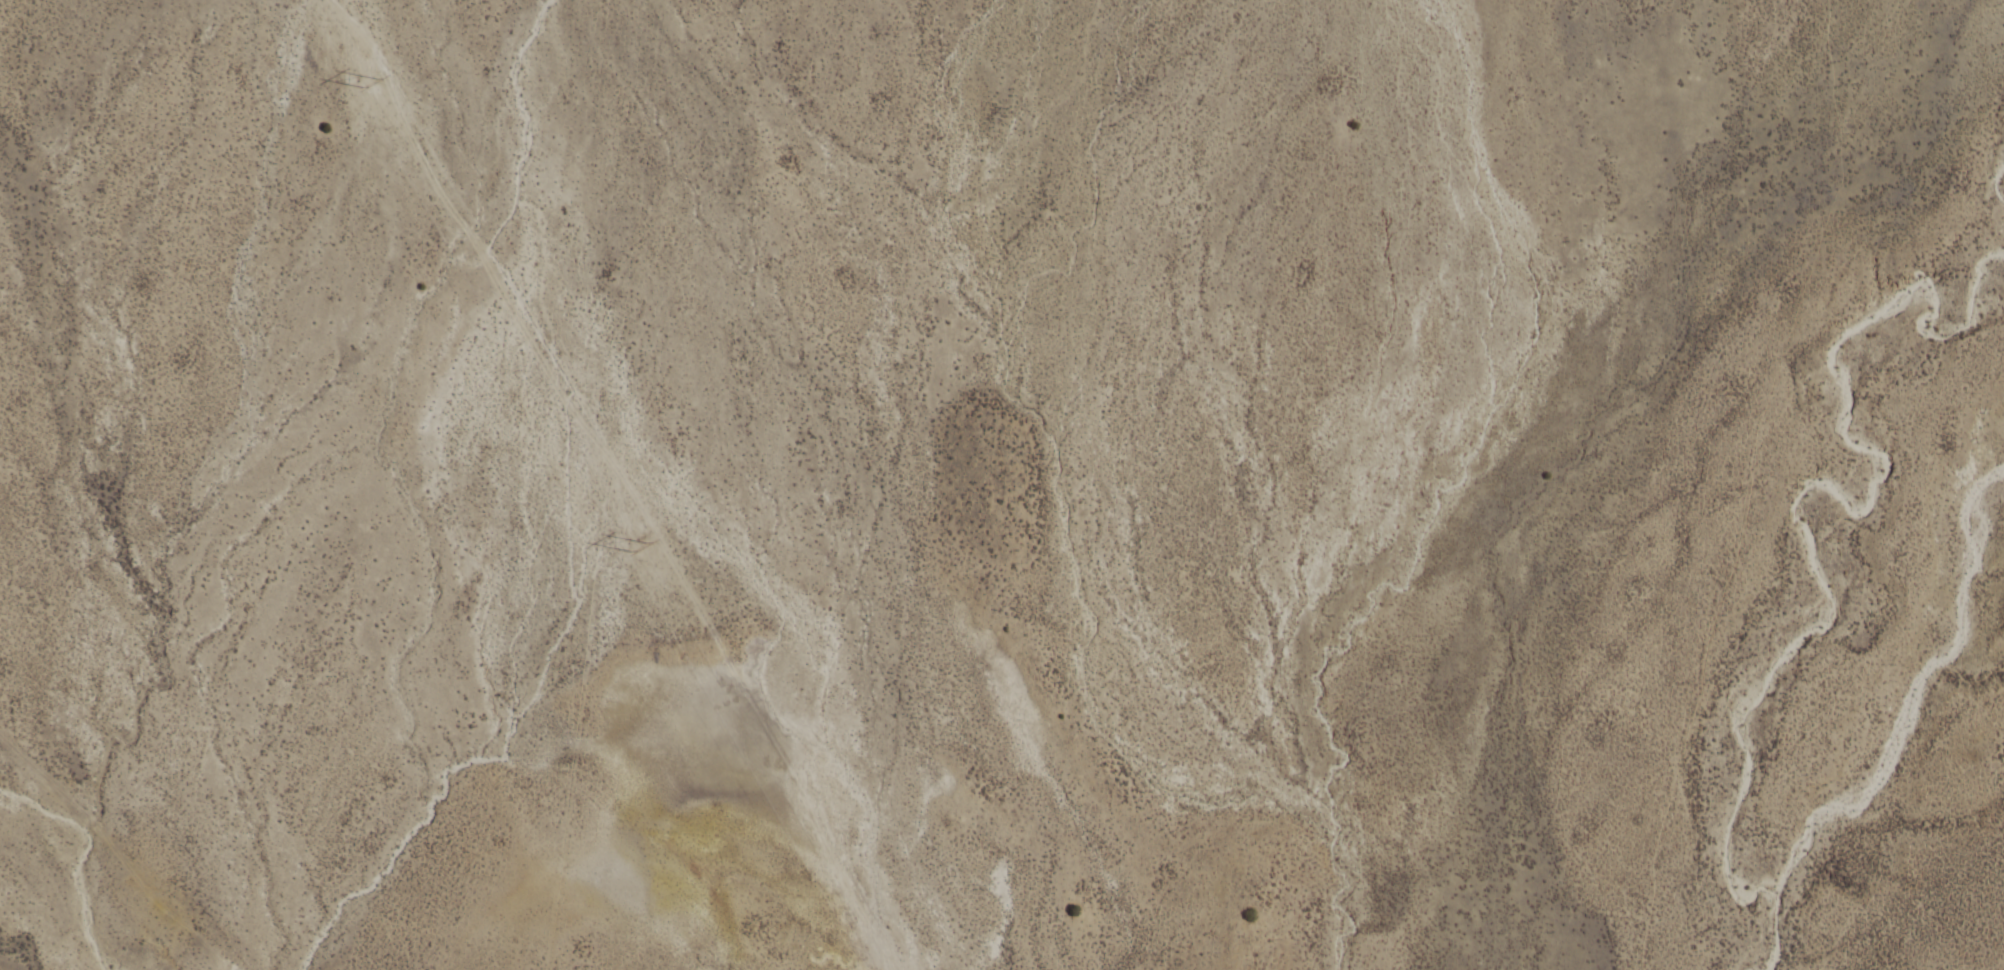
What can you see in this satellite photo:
power tower: (375, 78)
power tower: (639, 543)

